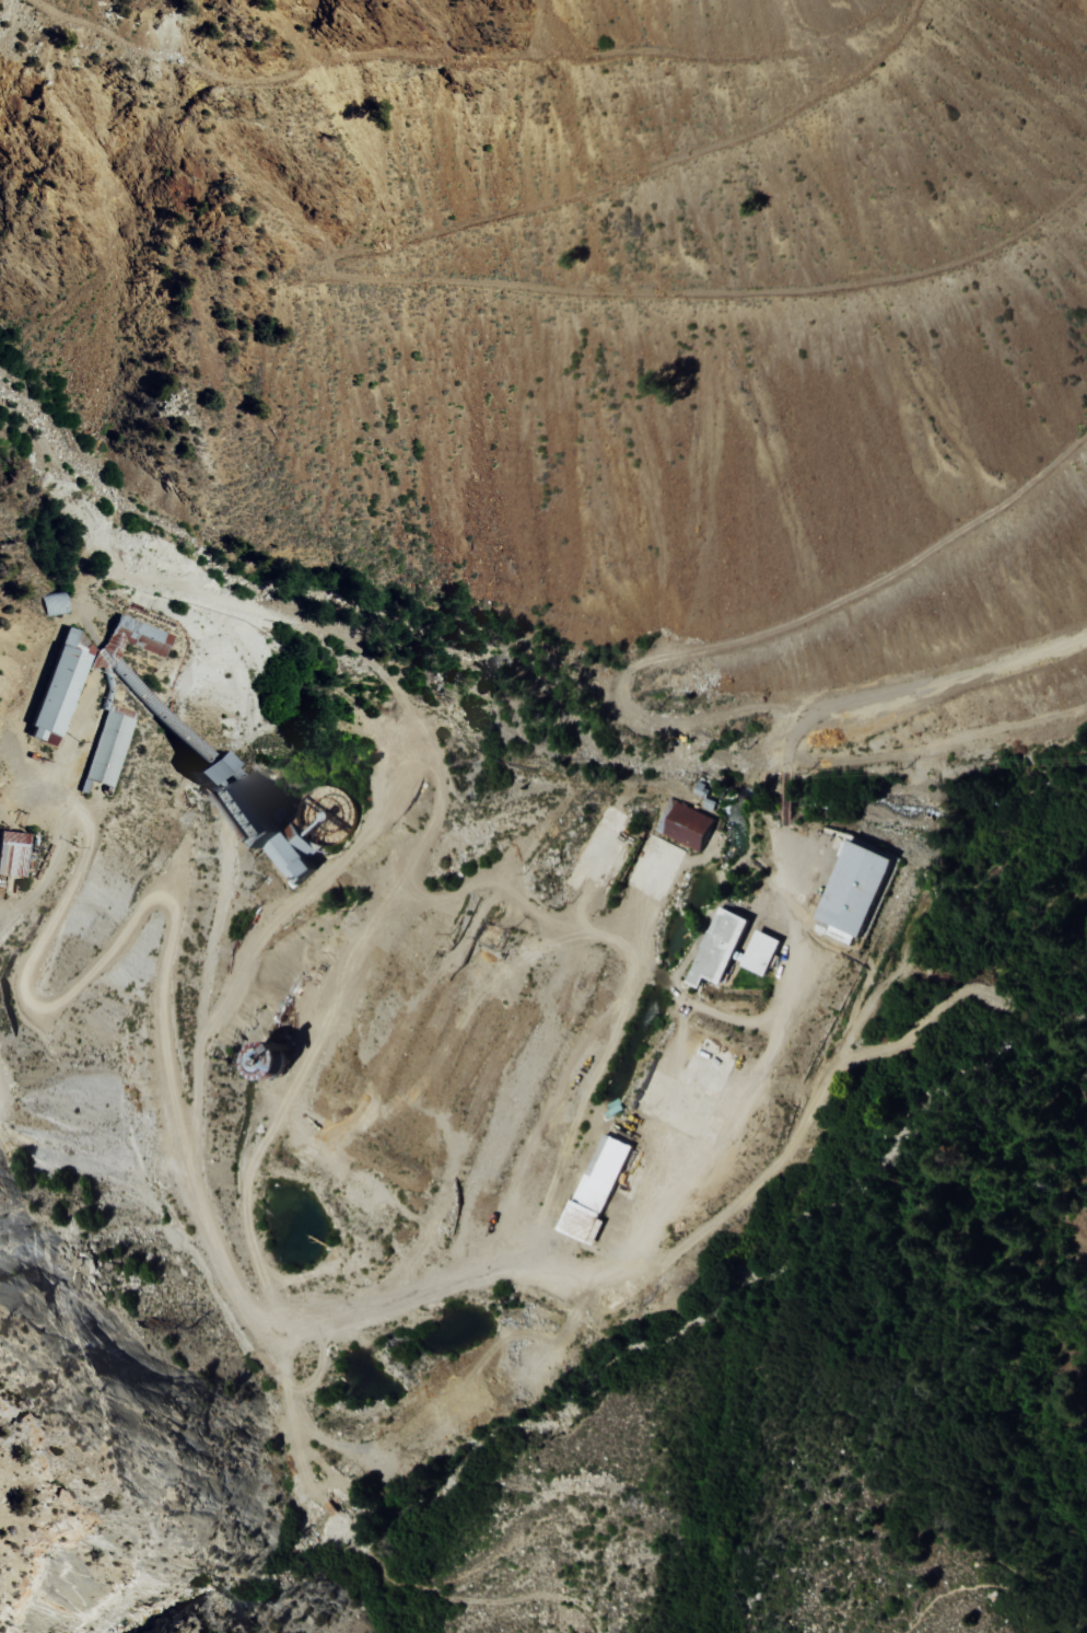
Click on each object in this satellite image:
road: (461, 60)
road: (389, 279)
building: (132, 628)
road: (758, 636)
building: (50, 686)
road: (920, 687)
building: (101, 744)
road: (939, 745)
road: (15, 794)
road: (787, 797)
building: (320, 815)
building: (678, 827)
building: (285, 848)
building: (10, 849)
road: (409, 868)
building: (851, 882)
road: (791, 887)
building: (710, 949)
building: (755, 951)
road: (587, 1113)
building: (599, 1171)
road: (202, 1213)
building: (576, 1223)
road: (965, 1422)
road: (339, 1561)

